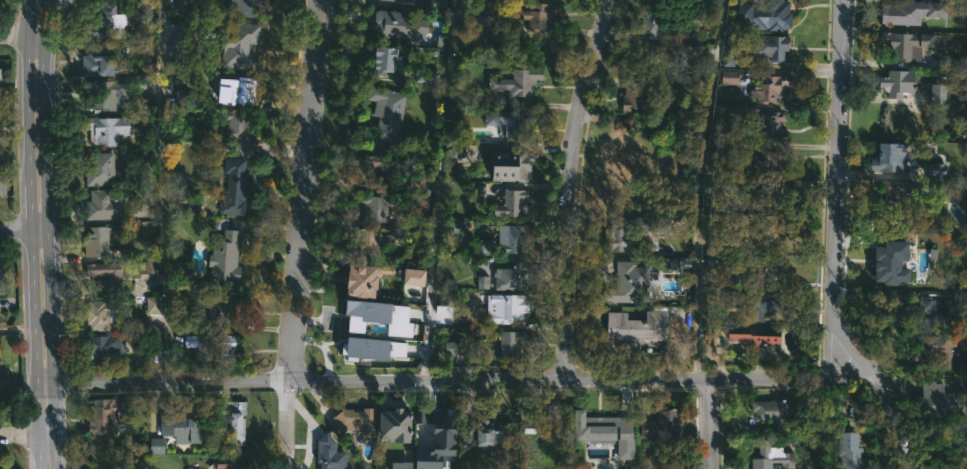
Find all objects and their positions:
road: (54, 1)
building: (395, 1)
road: (37, 2)
building: (173, 3)
building: (244, 7)
building: (910, 10)
building: (962, 12)
building: (532, 13)
building: (763, 13)
building: (697, 15)
building: (111, 21)
building: (395, 24)
building: (649, 24)
road: (11, 35)
road: (35, 35)
building: (176, 40)
building: (244, 40)
building: (904, 45)
building: (768, 47)
building: (387, 57)
building: (657, 58)
building: (728, 58)
building: (102, 61)
road: (793, 74)
building: (729, 77)
building: (514, 82)
building: (895, 82)
building: (766, 87)
building: (240, 91)
building: (1, 92)
building: (109, 92)
building: (937, 93)
building: (187, 97)
building: (635, 97)
building: (962, 101)
building: (385, 111)
building: (506, 121)
building: (769, 125)
building: (236, 126)
building: (110, 129)
building: (454, 144)
building: (887, 155)
building: (621, 158)
building: (764, 161)
building: (507, 165)
building: (101, 168)
building: (380, 168)
building: (935, 170)
building: (4, 185)
building: (233, 186)
road: (567, 188)
road: (702, 188)
road: (437, 190)
road: (160, 191)
building: (891, 194)
building: (766, 198)
building: (510, 203)
building: (103, 205)
building: (373, 207)
road: (13, 228)
road: (38, 228)
building: (761, 233)
road: (26, 234)
road: (50, 234)
road: (297, 234)
building: (617, 236)
building: (507, 238)
building: (99, 241)
building: (366, 241)
road: (836, 245)
building: (223, 255)
building: (888, 257)
building: (713, 260)
building: (760, 268)
building: (3, 273)
building: (106, 274)
building: (511, 276)
building: (413, 277)
building: (357, 280)
building: (483, 282)
building: (624, 284)
building: (756, 301)
building: (153, 304)
building: (497, 305)
building: (222, 307)
building: (901, 311)
building: (101, 315)
building: (356, 325)
building: (632, 328)
road: (14, 330)
building: (751, 335)
building: (507, 342)
building: (209, 344)
building: (935, 347)
building: (104, 348)
building: (371, 348)
building: (455, 349)
road: (457, 382)
building: (7, 383)
road: (42, 384)
building: (938, 399)
building: (768, 410)
building: (109, 414)
building: (232, 420)
building: (353, 420)
building: (431, 420)
building: (174, 423)
road: (710, 423)
building: (661, 424)
building: (392, 425)
building: (590, 428)
road: (310, 430)
building: (488, 433)
road: (15, 435)
road: (42, 435)
building: (467, 436)
building: (156, 446)
building: (847, 450)
building: (326, 453)
building: (769, 456)
building: (228, 461)
building: (447, 461)
building: (399, 465)
building: (533, 467)

